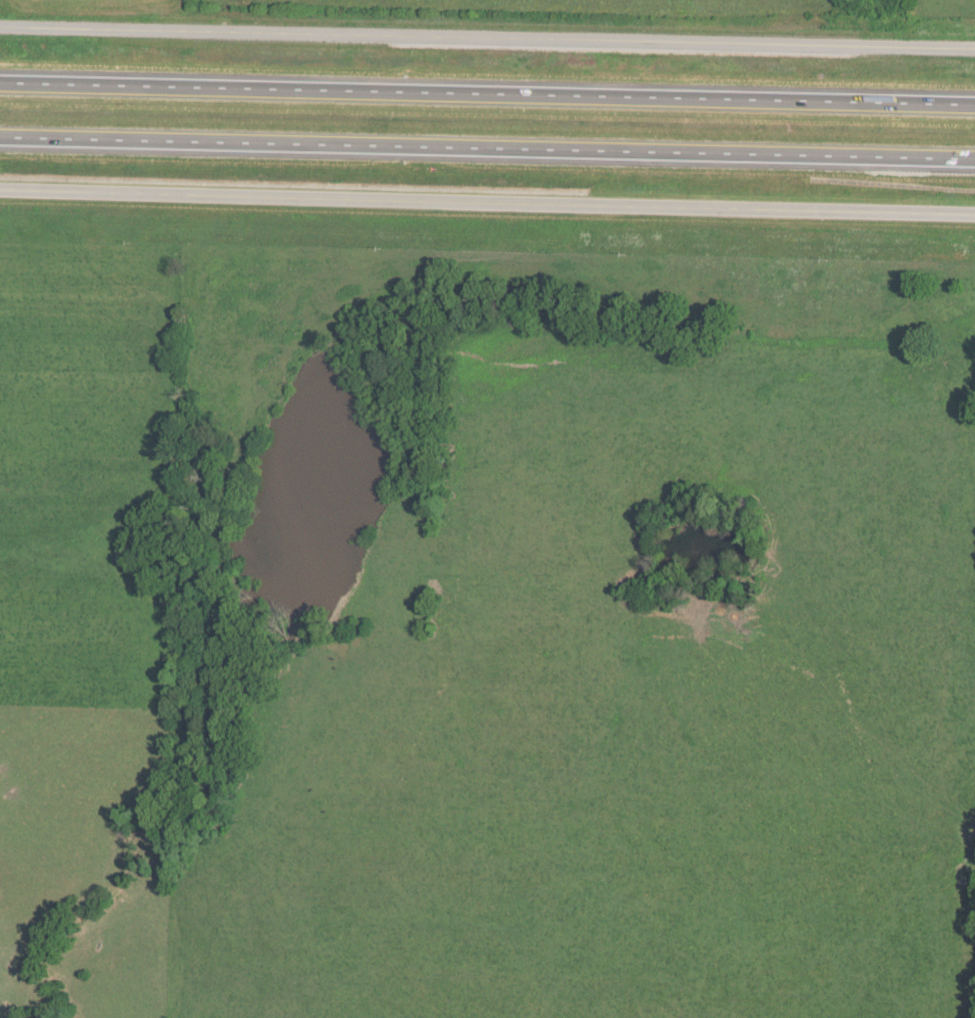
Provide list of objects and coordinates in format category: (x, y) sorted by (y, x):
road: (487, 40)
road: (487, 95)
road: (487, 150)
road: (487, 207)

